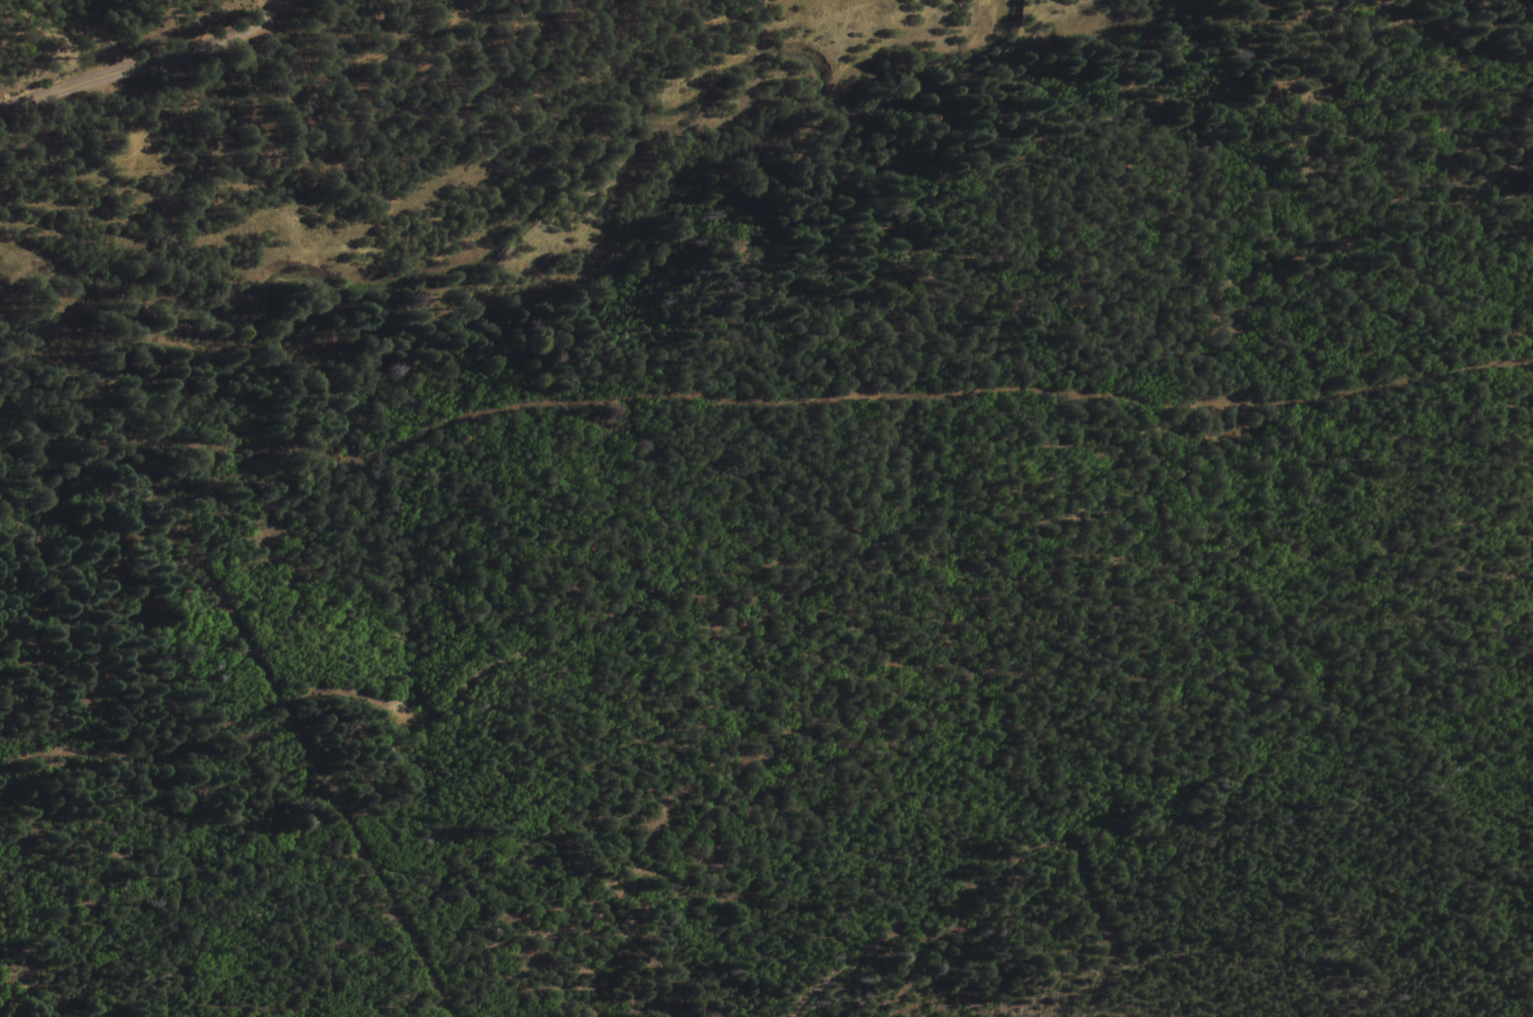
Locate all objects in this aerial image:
road: (152, 69)

